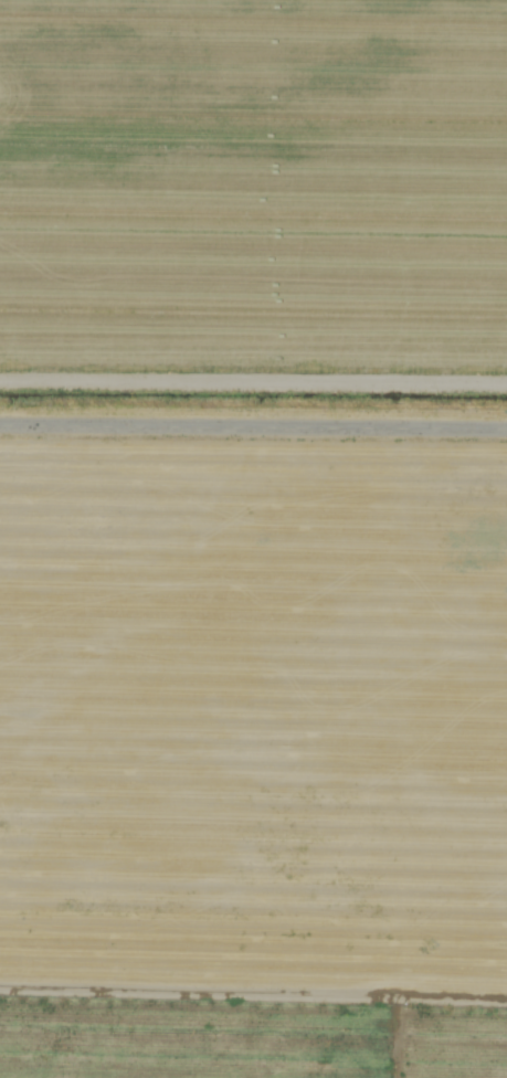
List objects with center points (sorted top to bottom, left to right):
road: (253, 426)
crop: (253, 539)

